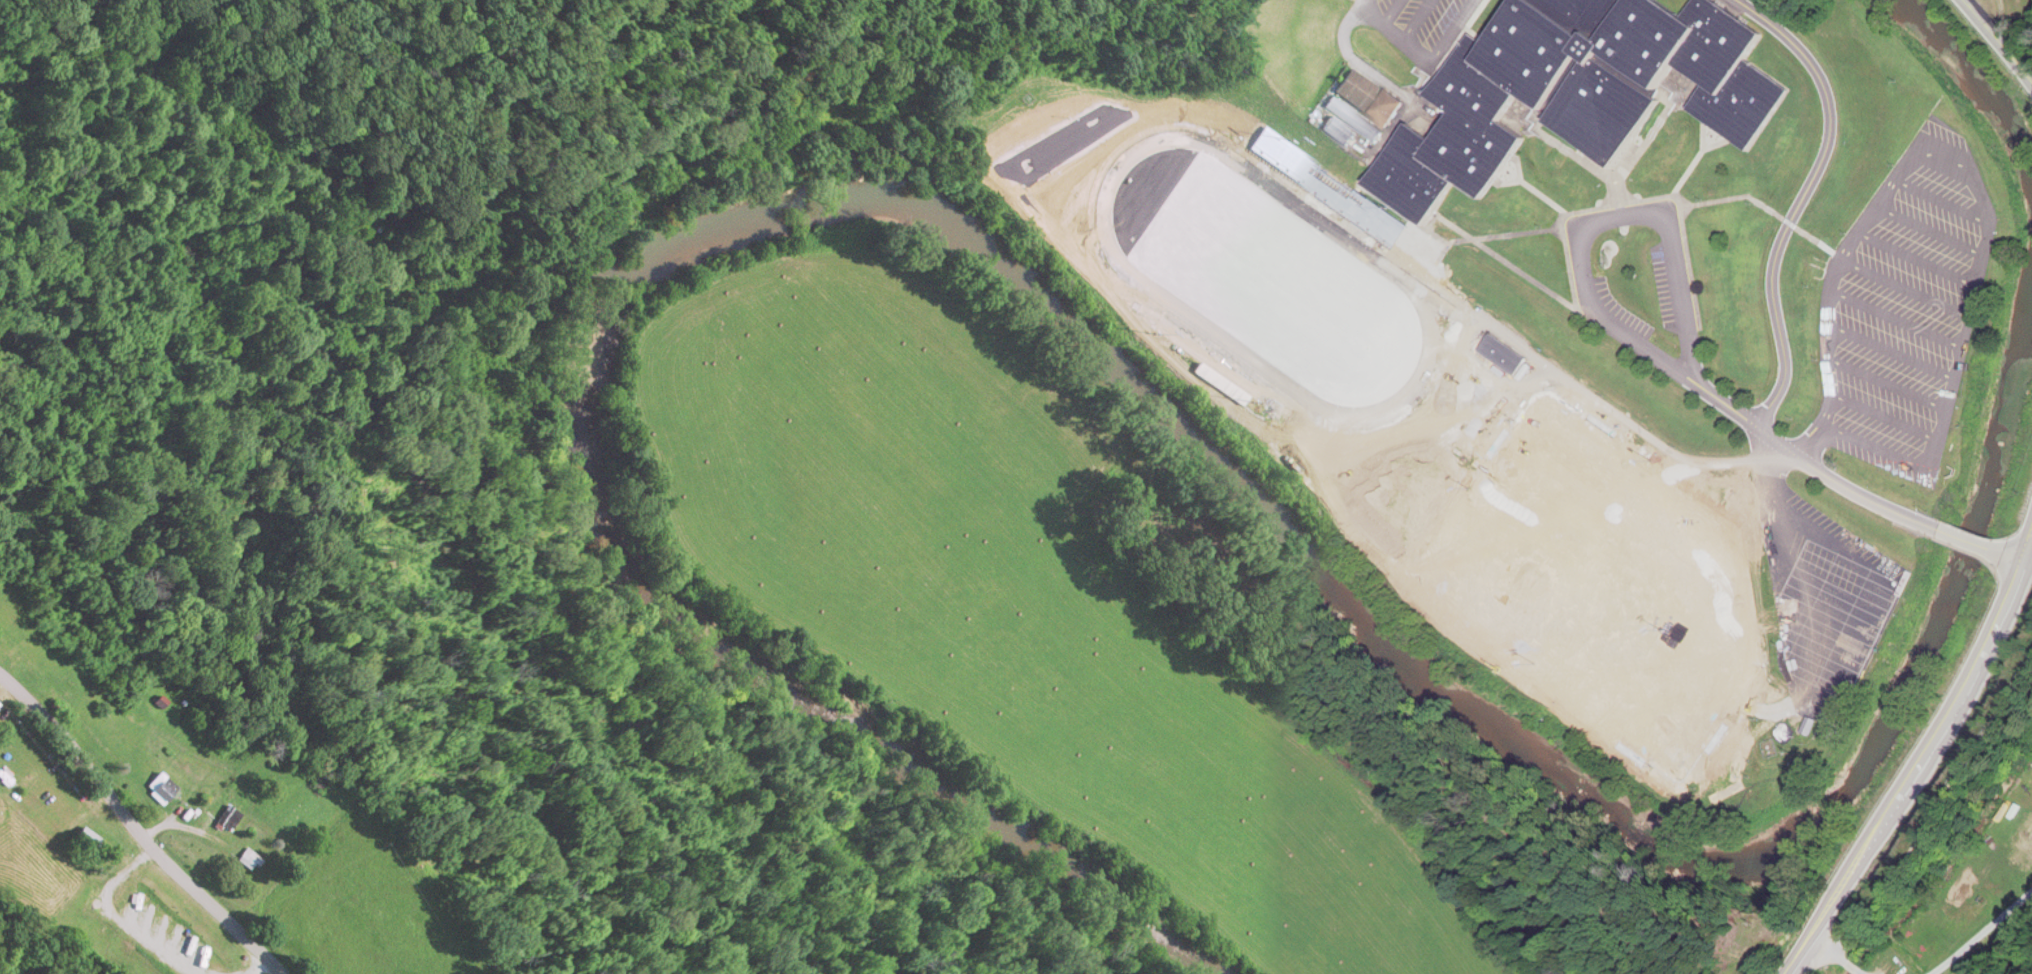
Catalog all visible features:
road: (1999, 39)
river: (1979, 90)
building: (1586, 92)
building: (1365, 107)
building: (1328, 189)
road: (1943, 205)
road: (1932, 229)
road: (1920, 257)
road: (1982, 261)
parking lot: (1664, 286)
road: (1908, 288)
road: (1833, 293)
parking lot: (1623, 310)
parking lot: (1906, 310)
river: (1049, 312)
road: (1898, 319)
road: (1627, 334)
road: (1892, 351)
building: (1505, 355)
road: (1888, 382)
road: (1883, 414)
road: (1814, 440)
road: (1889, 448)
road: (1967, 538)
road: (2012, 551)
road: (1922, 762)
building: (162, 789)
building: (2012, 812)
building: (229, 819)
road: (135, 829)
building: (89, 839)
building: (249, 860)
road: (1985, 932)
road: (1835, 956)

